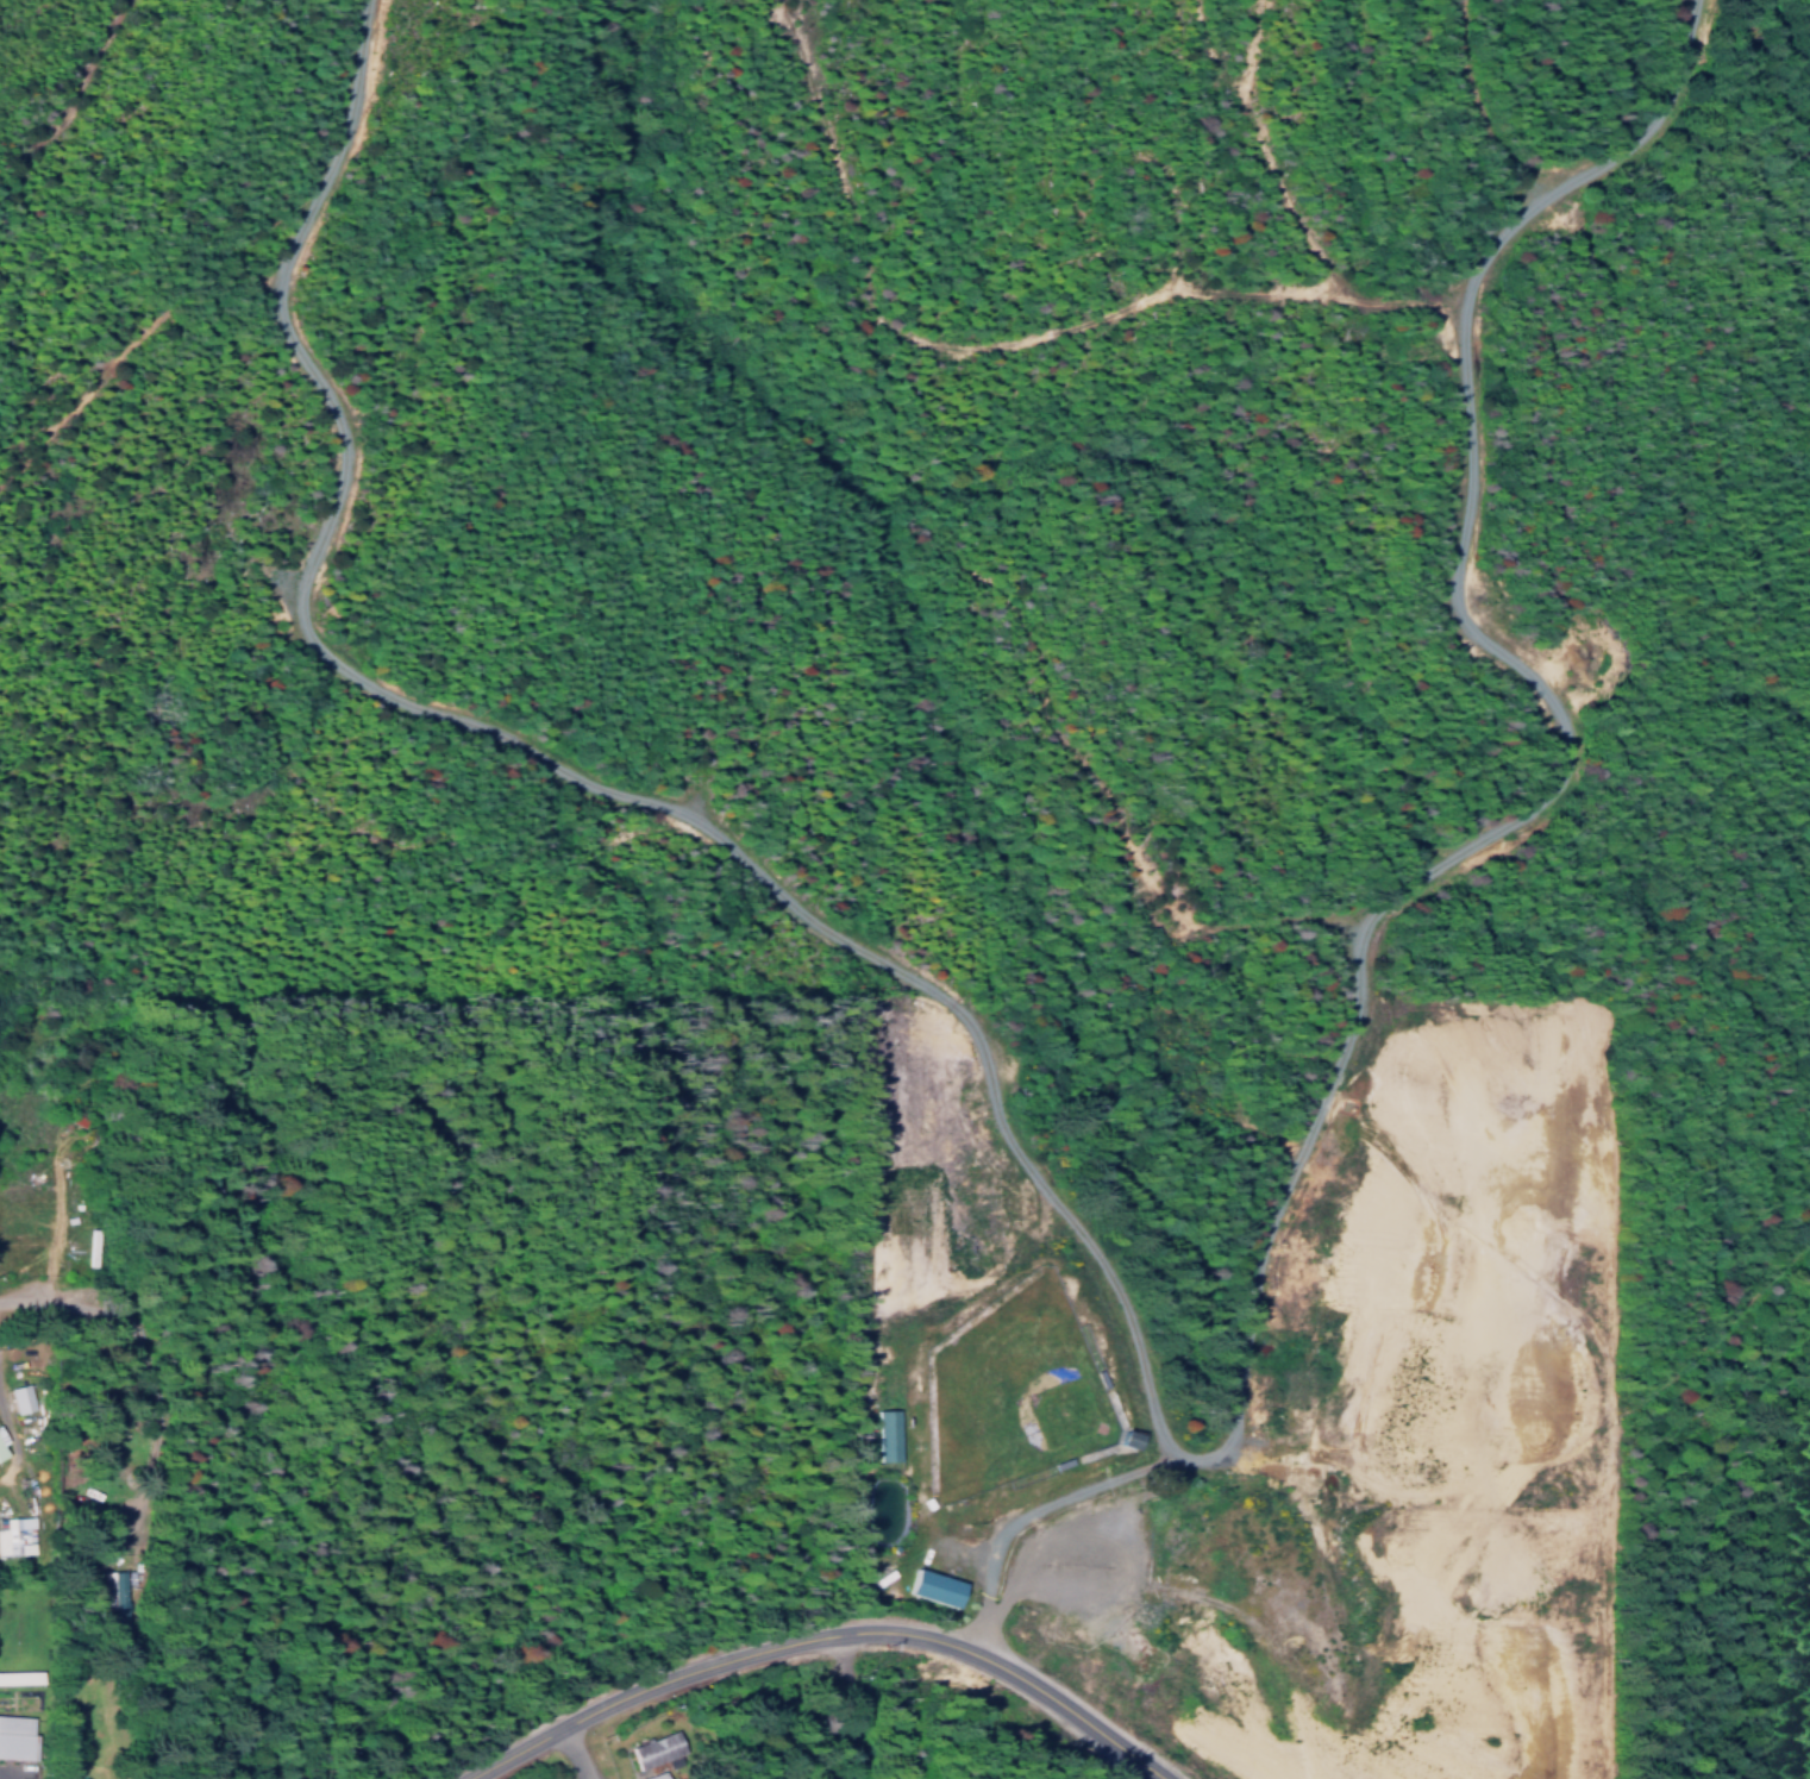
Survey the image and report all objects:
road: (19, 1296)
road: (154, 1373)
road: (1141, 1384)
park: (1012, 1386)
building: (20, 1397)
road: (6, 1414)
building: (881, 1433)
building: (2, 1439)
road: (1029, 1511)
building: (15, 1535)
building: (927, 1586)
road: (935, 1641)
building: (20, 1672)
road: (840, 1705)
road: (566, 1722)
building: (17, 1733)
building: (653, 1749)
road: (577, 1750)

